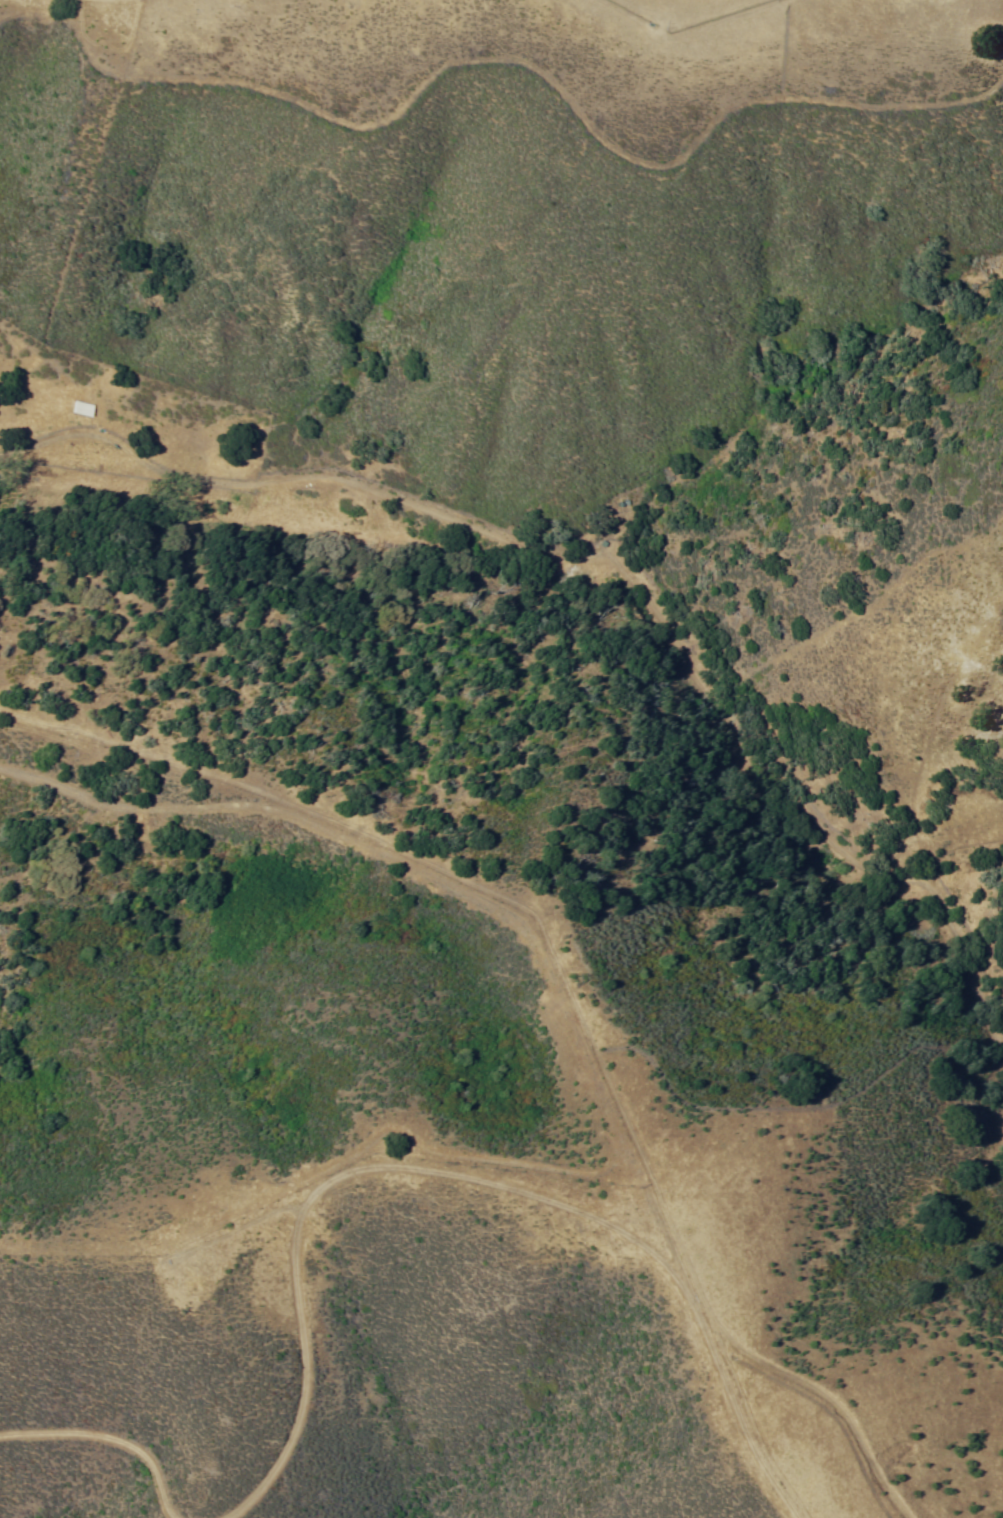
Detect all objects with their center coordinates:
building: (83, 410)
road: (501, 1179)
road: (109, 1438)

